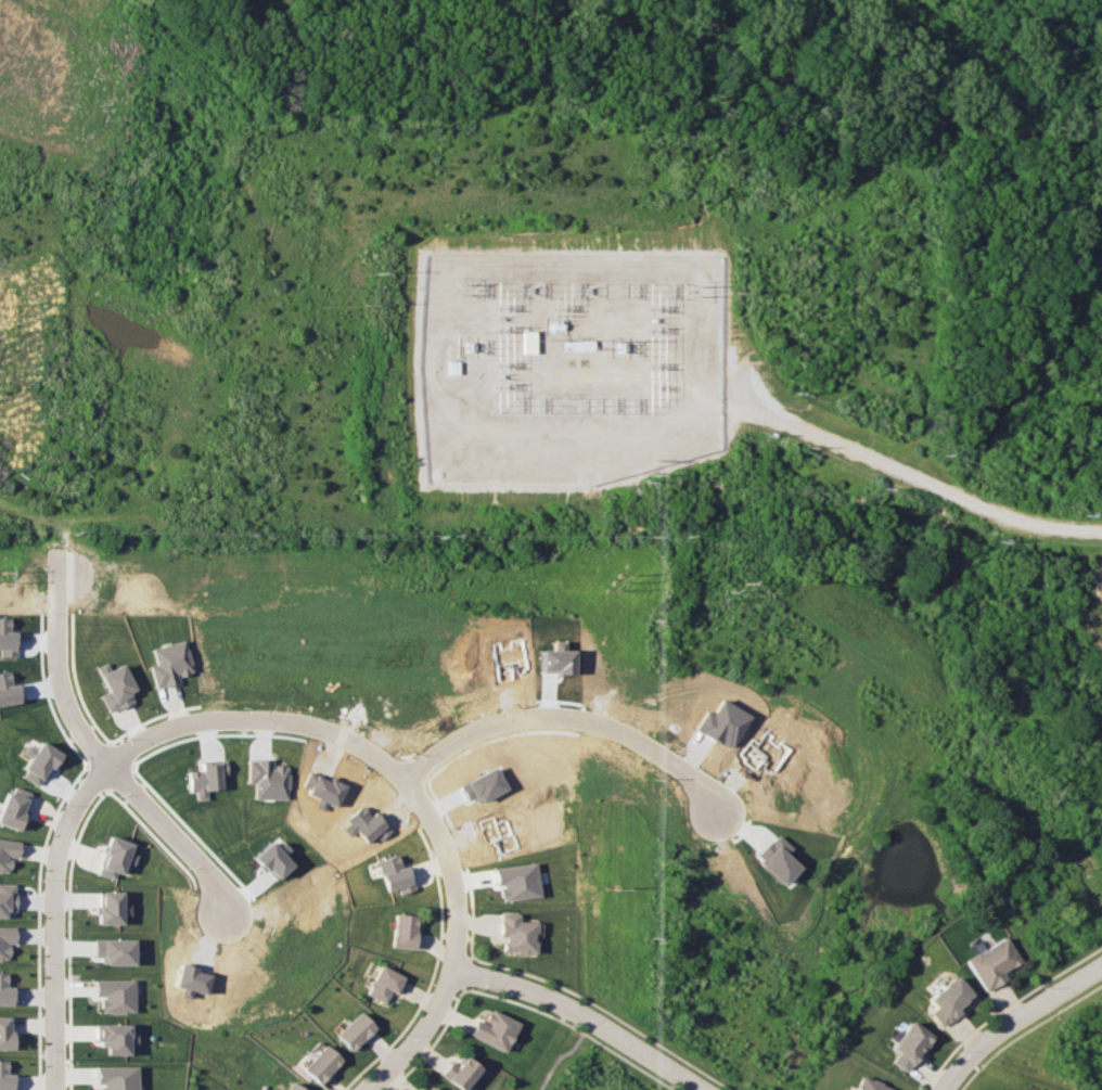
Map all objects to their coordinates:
power tower: (372, 288)
power tower: (465, 288)
power tower: (690, 292)
power tower: (733, 292)
building: (529, 342)
building: (579, 344)
power substation: (568, 364)
road: (892, 464)
road: (1080, 529)
power tower: (729, 589)
building: (169, 663)
road: (54, 666)
building: (114, 687)
road: (563, 718)
road: (292, 724)
power tower: (1043, 794)
building: (13, 807)
road: (166, 834)
building: (8, 852)
building: (115, 857)
building: (396, 874)
building: (516, 881)
building: (8, 899)
building: (112, 907)
building: (405, 931)
building: (515, 933)
building: (5, 941)
road: (55, 949)
building: (114, 950)
building: (991, 963)
building: (385, 984)
building: (5, 991)
building: (115, 995)
building: (947, 1000)
road: (436, 1005)
road: (582, 1016)
road: (1021, 1023)
building: (492, 1029)
building: (355, 1030)
building: (5, 1033)
building: (114, 1037)
building: (907, 1044)
road: (563, 1053)
building: (320, 1063)
building: (458, 1072)
building: (5, 1077)
building: (115, 1077)
building: (869, 1085)
building: (430, 1088)

